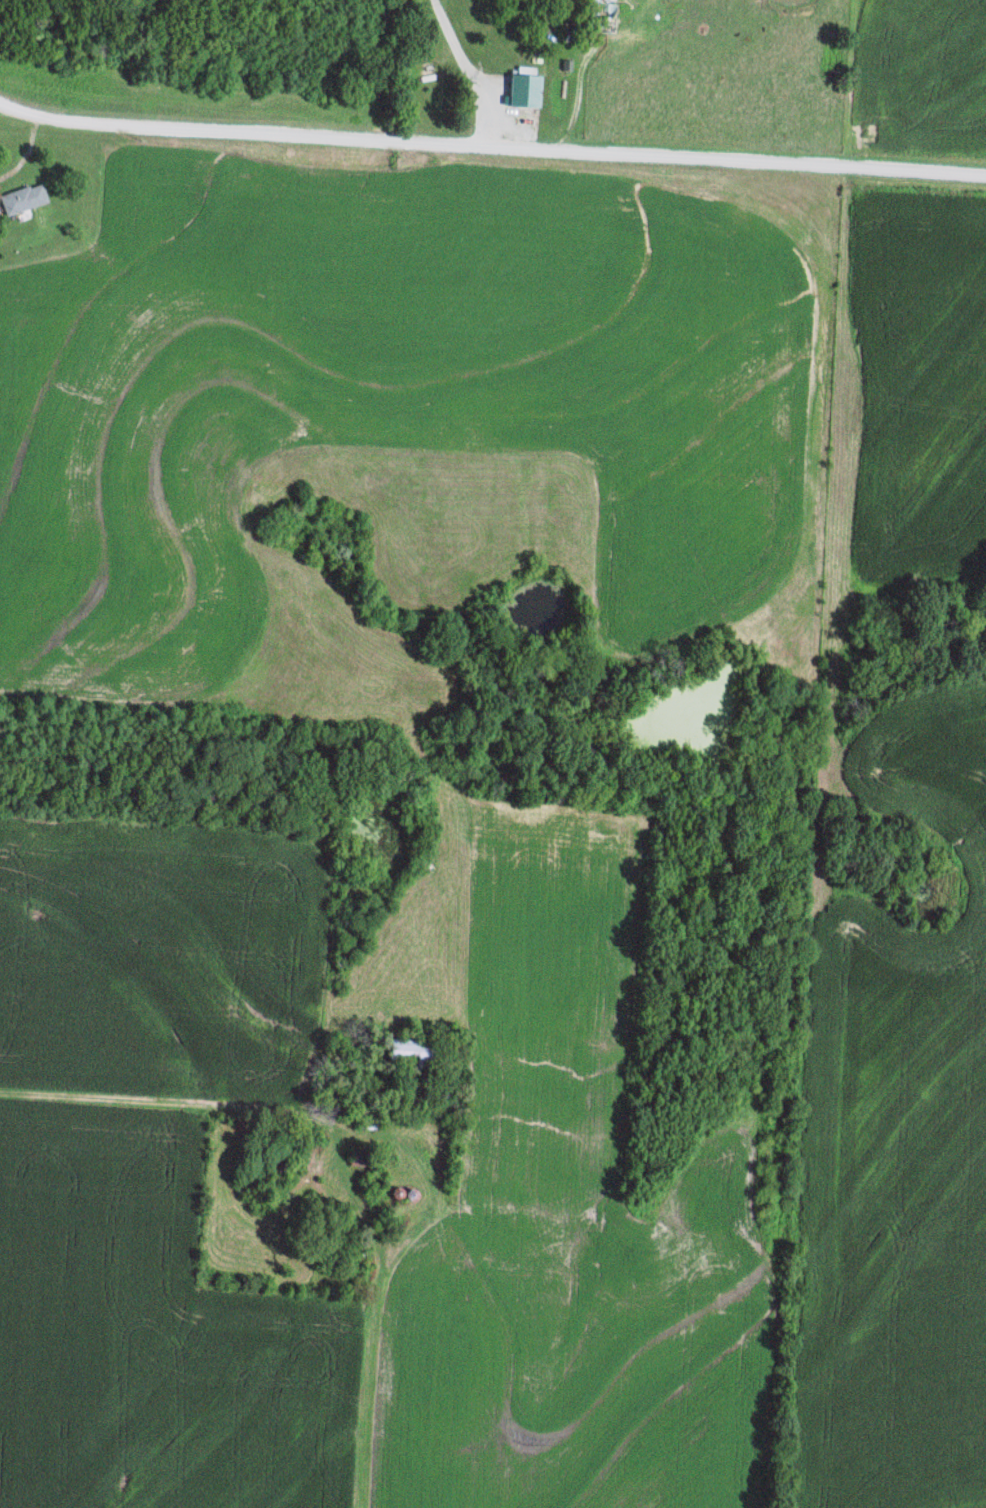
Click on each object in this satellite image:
building: (600, 17)
road: (464, 69)
building: (520, 92)
road: (576, 94)
road: (491, 143)
building: (21, 200)
building: (405, 1054)
road: (200, 1104)

